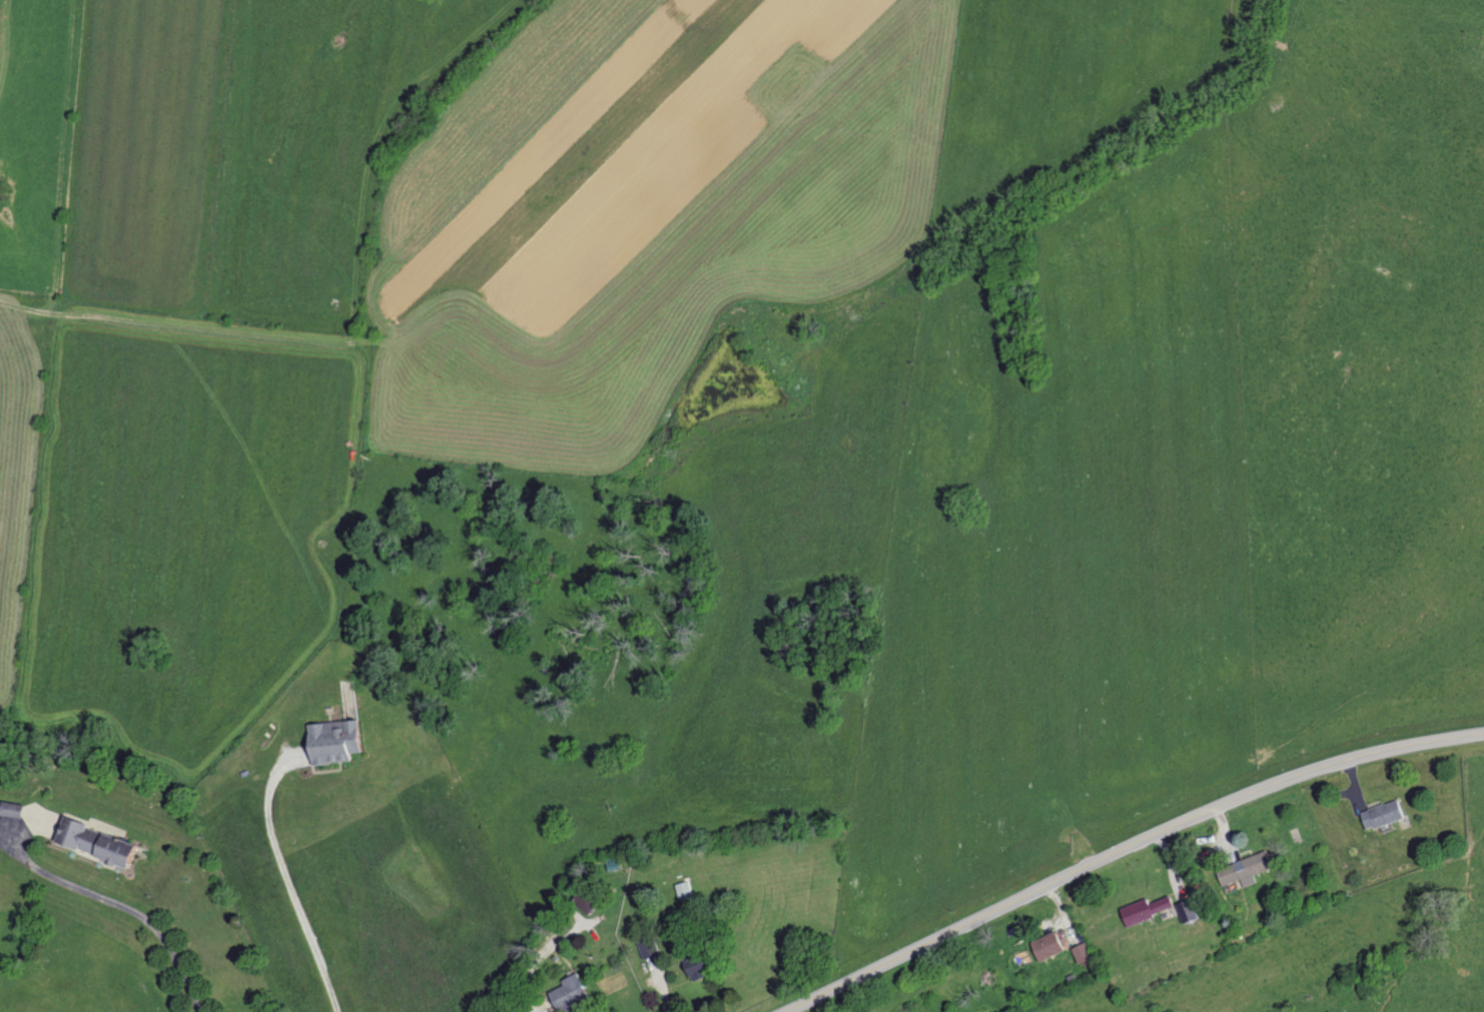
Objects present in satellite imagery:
building: (337, 740)
building: (1385, 814)
building: (42, 820)
building: (97, 842)
road: (1125, 849)
building: (1246, 869)
road: (288, 883)
road: (124, 904)
building: (1148, 909)
building: (1190, 910)
building: (1084, 952)
building: (698, 967)
building: (570, 993)

